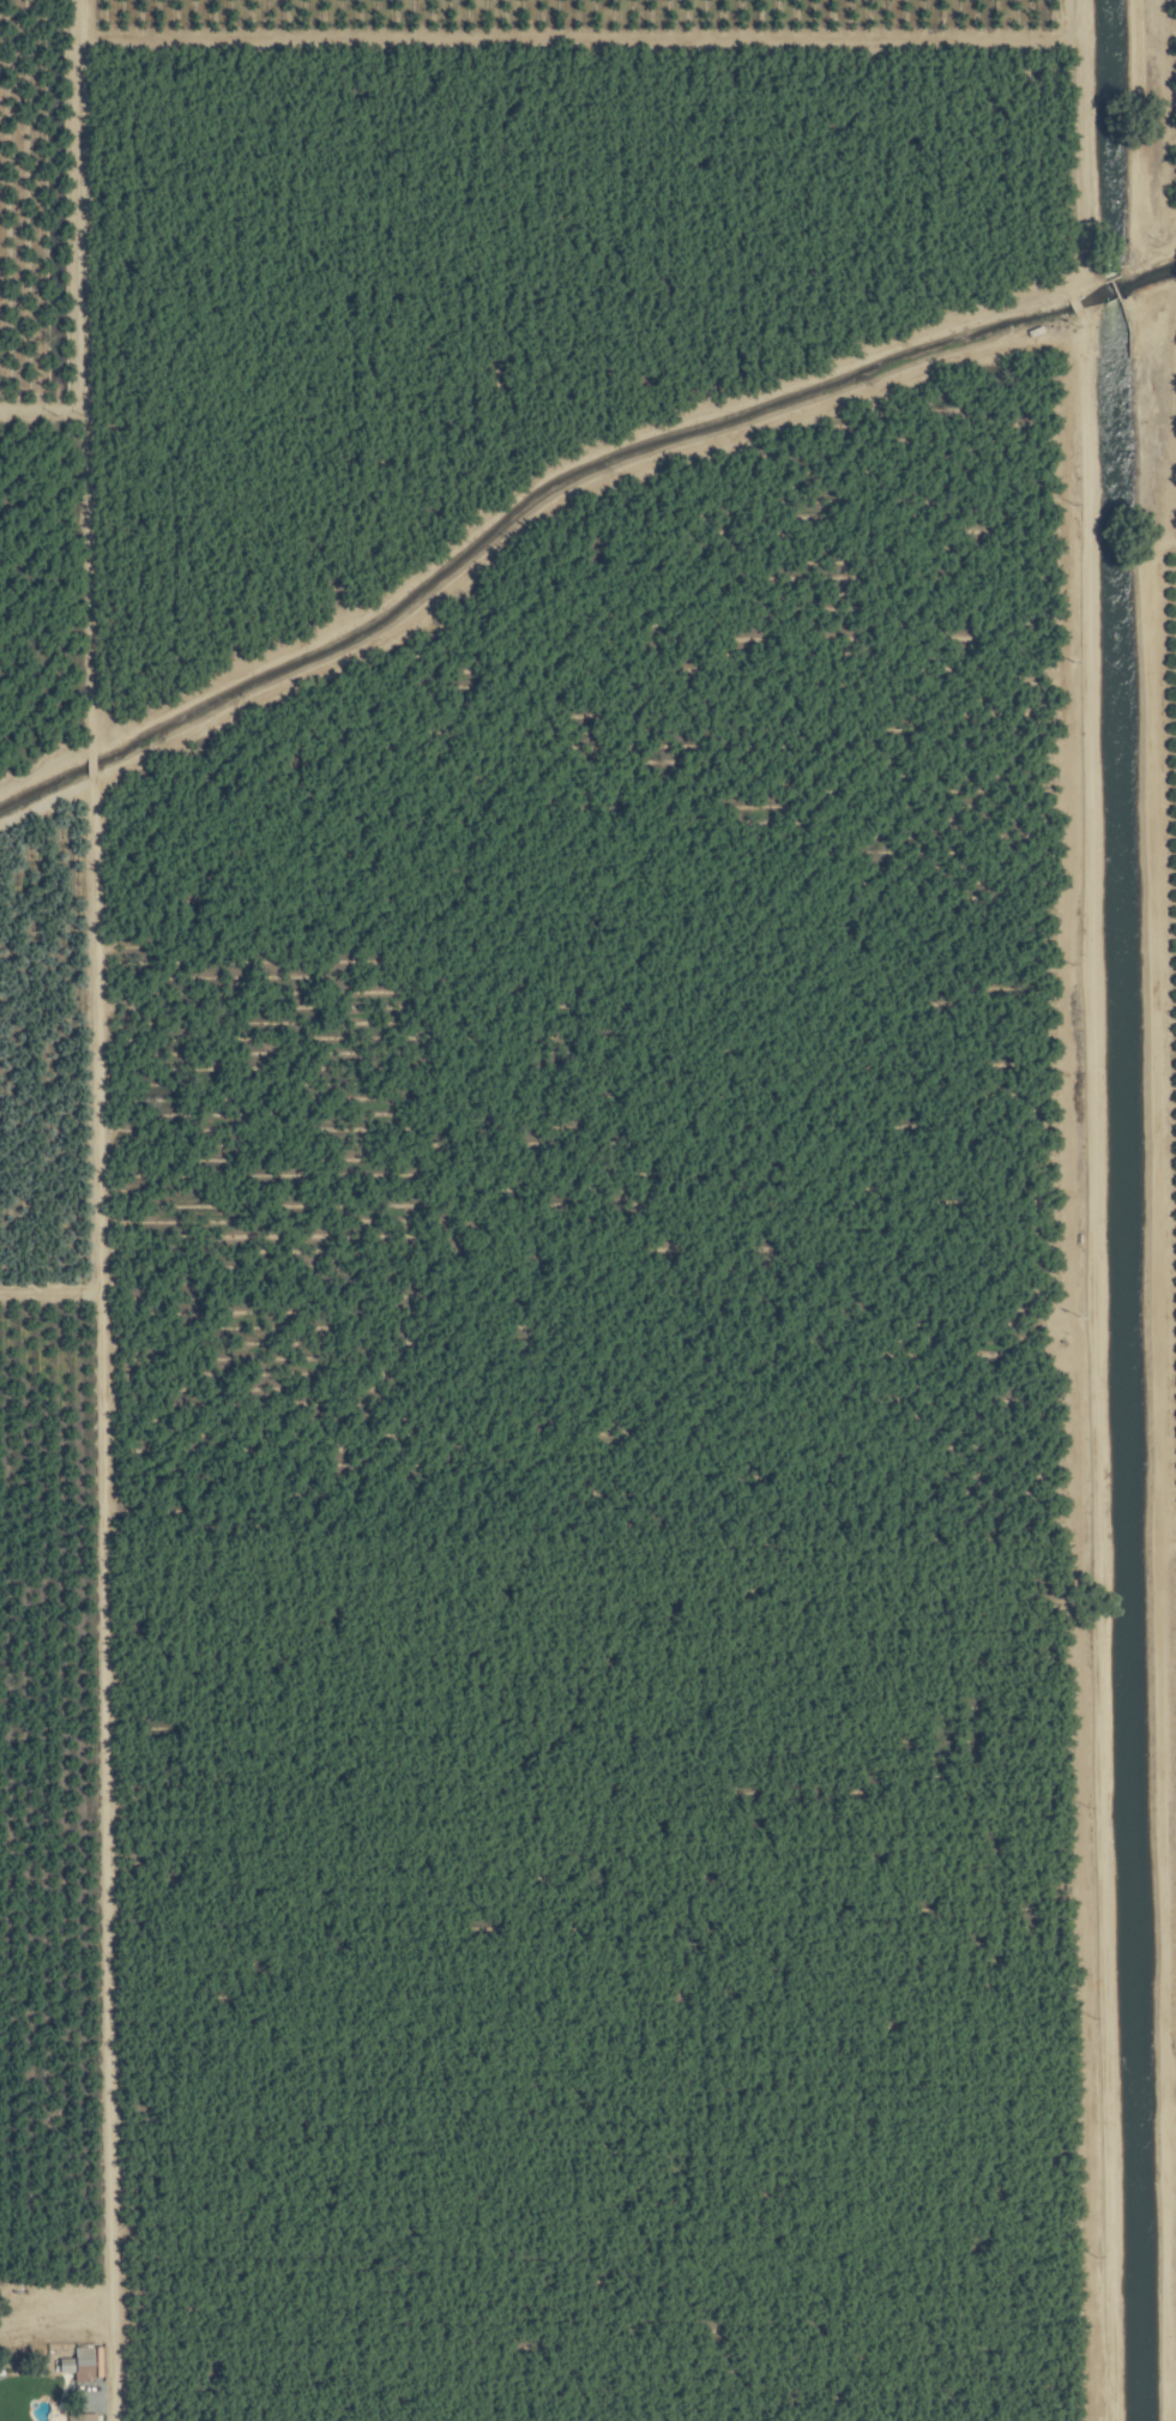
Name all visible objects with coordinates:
crop: (587, 1210)
road: (1094, 1374)
road: (98, 2329)
building: (79, 2417)

